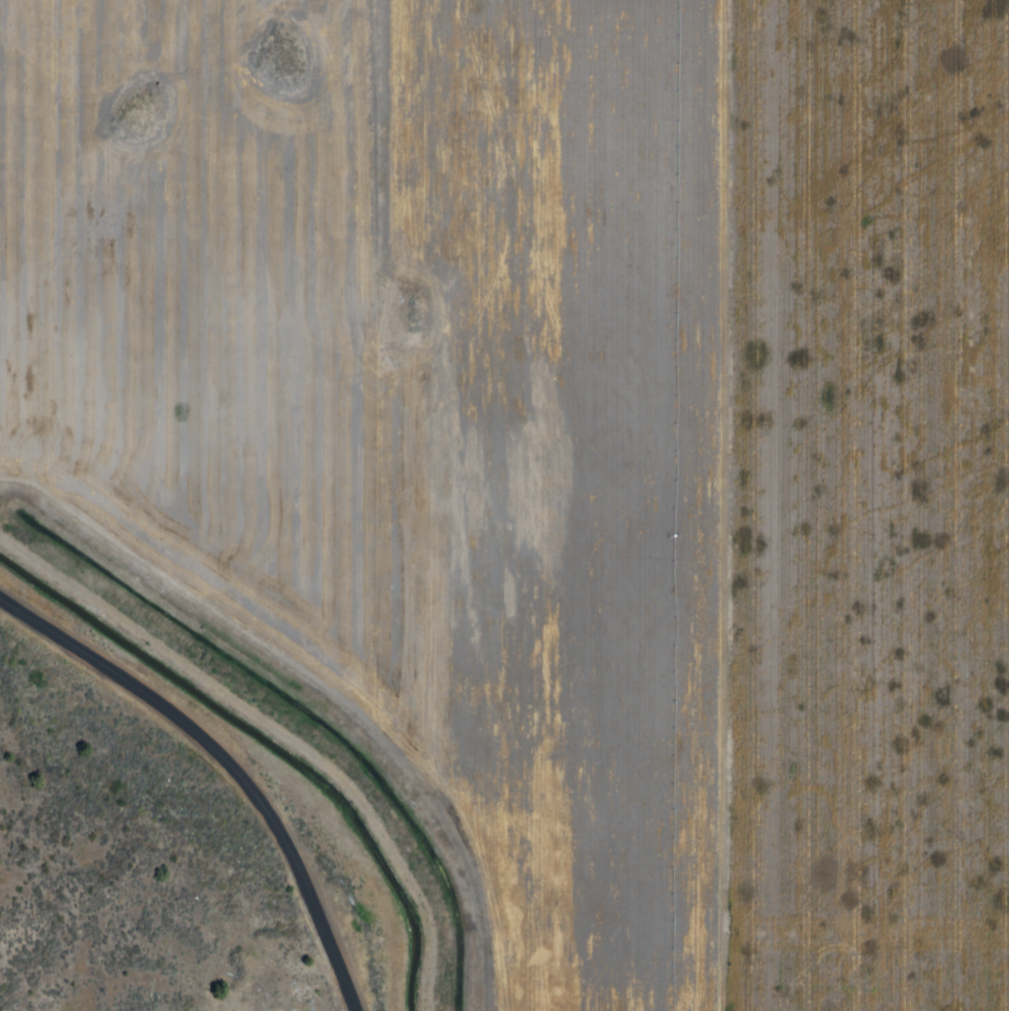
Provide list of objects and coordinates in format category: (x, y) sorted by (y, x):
crop: (416, 412)
crop: (863, 505)
road: (227, 762)

